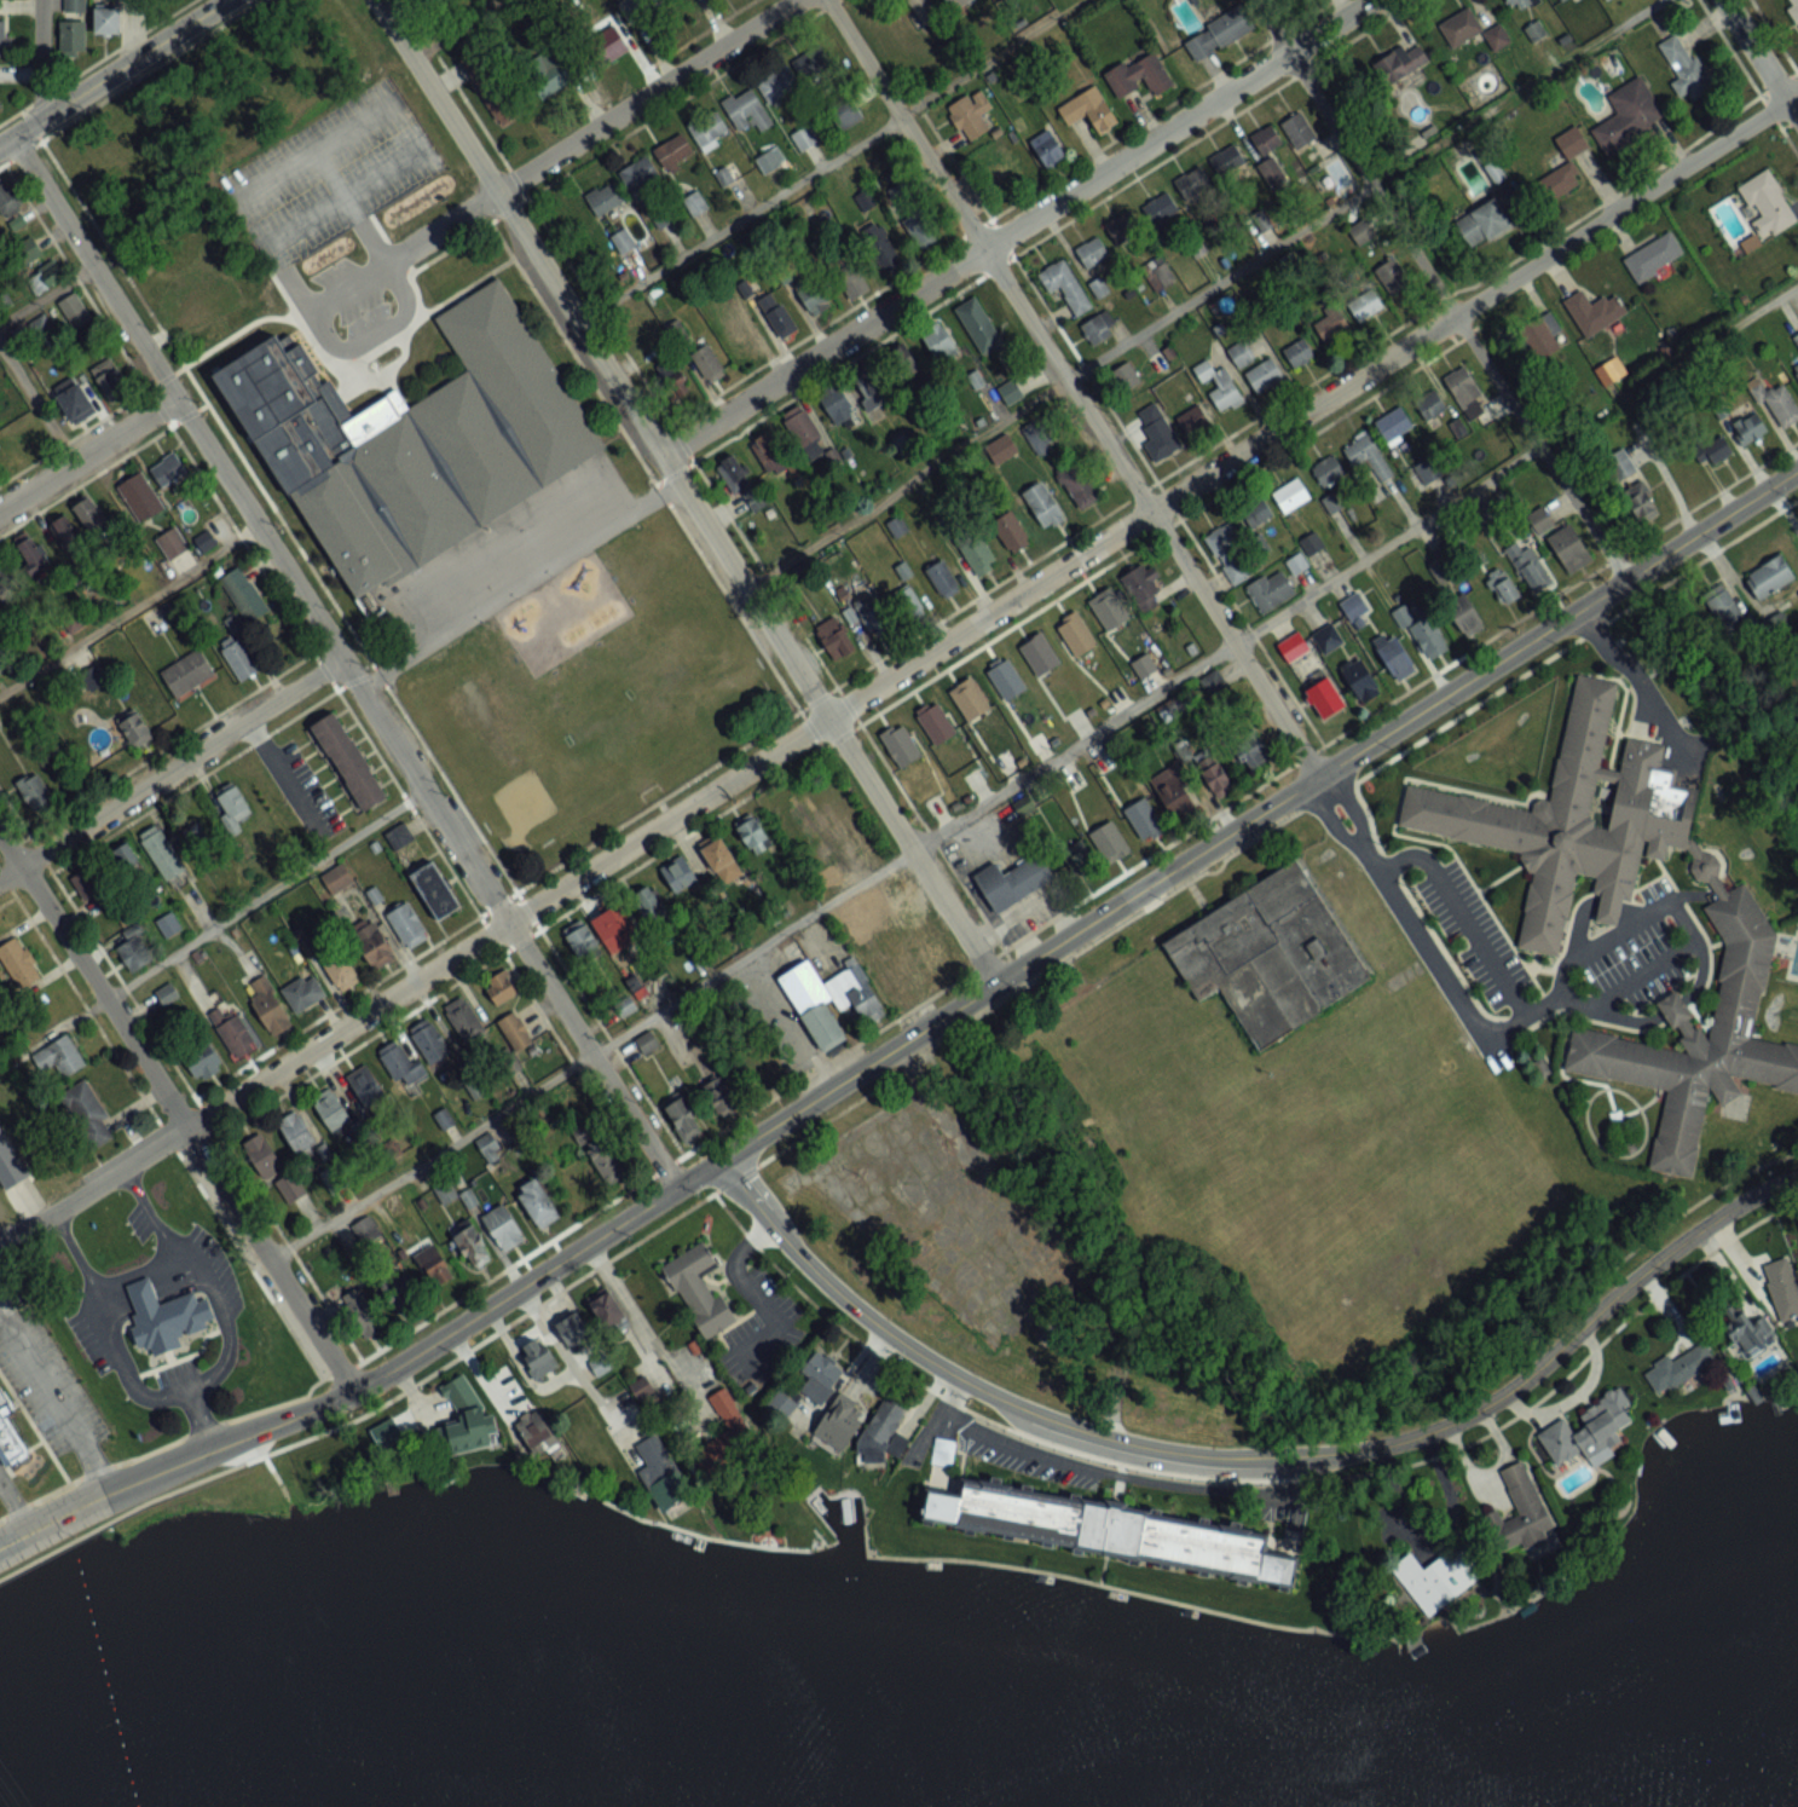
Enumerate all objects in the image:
building: (955, 2)
building: (1519, 4)
building: (74, 5)
building: (1792, 6)
building: (641, 8)
building: (106, 21)
road: (458, 29)
building: (1218, 34)
building: (71, 36)
building: (4, 37)
building: (606, 45)
road: (1761, 57)
road: (42, 59)
building: (1399, 64)
building: (1686, 69)
road: (114, 73)
building: (549, 73)
building: (794, 73)
building: (1140, 76)
building: (490, 87)
building: (0, 109)
building: (746, 110)
building: (1088, 110)
building: (971, 115)
building: (1629, 116)
building: (707, 128)
building: (1297, 131)
building: (804, 138)
building: (1266, 139)
building: (1573, 146)
road: (311, 149)
building: (1047, 149)
building: (673, 151)
road: (826, 158)
road: (554, 160)
building: (770, 160)
building: (1227, 161)
building: (1271, 172)
building: (727, 174)
building: (1004, 175)
building: (638, 177)
building: (1559, 181)
building: (1192, 183)
road: (340, 192)
building: (605, 198)
building: (7, 200)
building: (695, 203)
building: (1767, 203)
building: (1160, 208)
building: (1264, 221)
building: (1484, 224)
road: (1017, 226)
building: (920, 227)
building: (1123, 227)
building: (623, 241)
building: (881, 248)
building: (1092, 252)
building: (27, 253)
building: (1654, 256)
building: (1393, 277)
building: (44, 278)
road: (398, 278)
building: (851, 282)
building: (1064, 285)
road: (1439, 290)
road: (1202, 291)
building: (813, 295)
building: (203, 299)
building: (1365, 304)
building: (74, 310)
building: (1595, 312)
building: (776, 314)
building: (978, 325)
building: (1332, 327)
building: (1095, 331)
building: (1543, 335)
building: (940, 343)
building: (1299, 353)
building: (707, 362)
building: (903, 363)
building: (1796, 370)
building: (1264, 375)
building: (1128, 376)
building: (110, 380)
building: (672, 381)
road: (1075, 387)
building: (1221, 388)
building: (872, 391)
building: (1010, 392)
road: (39, 400)
building: (1429, 403)
building: (1781, 405)
building: (838, 406)
building: (1193, 421)
building: (1394, 425)
building: (1750, 429)
building: (803, 431)
building: (1157, 431)
building: (414, 438)
building: (1040, 443)
building: (1001, 449)
building: (1716, 450)
road: (87, 454)
building: (1368, 456)
building: (773, 457)
building: (1618, 464)
building: (1430, 469)
building: (168, 470)
building: (1328, 470)
building: (740, 481)
road: (1669, 481)
building: (1079, 485)
road: (689, 491)
building: (1290, 495)
building: (140, 497)
building: (1641, 503)
building: (1042, 504)
building: (1258, 512)
building: (91, 516)
building: (1540, 521)
building: (1011, 532)
building: (65, 535)
building: (204, 542)
building: (172, 543)
building: (1311, 544)
building: (1569, 549)
building: (30, 552)
building: (1230, 554)
building: (978, 555)
building: (1296, 564)
building: (1528, 566)
building: (0, 568)
building: (1441, 571)
building: (942, 578)
building: (1144, 588)
building: (1505, 589)
building: (244, 594)
building: (907, 602)
building: (1723, 607)
road: (129, 608)
building: (1109, 610)
building: (874, 616)
building: (1465, 616)
building: (1422, 630)
building: (1075, 635)
building: (836, 639)
building: (1328, 640)
building: (1293, 647)
building: (242, 658)
building: (1395, 658)
road: (342, 665)
road: (903, 670)
building: (187, 672)
building: (1005, 679)
building: (1360, 681)
road: (1642, 682)
building: (1215, 685)
building: (1325, 698)
building: (970, 699)
building: (936, 723)
building: (134, 728)
building: (900, 744)
building: (1249, 752)
building: (346, 757)
road: (1033, 768)
road: (168, 769)
building: (1214, 774)
road: (282, 775)
road: (1317, 779)
building: (1175, 787)
building: (35, 792)
building: (233, 803)
building: (1144, 819)
building: (747, 827)
building: (1110, 842)
building: (162, 854)
building: (721, 859)
building: (678, 873)
building: (1008, 878)
building: (88, 883)
parking lot: (1653, 888)
road: (262, 890)
building: (435, 890)
building: (648, 902)
road: (1606, 905)
road: (1630, 910)
road: (1459, 913)
road: (1684, 923)
building: (168, 925)
building: (406, 925)
building: (1742, 926)
building: (615, 928)
parking lot: (1472, 933)
building: (582, 940)
building: (372, 942)
building: (134, 952)
building: (1265, 952)
parking lot: (1626, 953)
building: (19, 962)
building: (330, 965)
road: (1699, 971)
building: (804, 974)
road: (1444, 977)
parking lot: (1655, 982)
building: (501, 987)
building: (303, 993)
building: (854, 993)
road: (1559, 993)
road: (1670, 1005)
building: (270, 1008)
building: (464, 1020)
building: (823, 1027)
building: (516, 1032)
building: (235, 1033)
road: (914, 1039)
building: (432, 1044)
building: (59, 1057)
building: (204, 1060)
road: (915, 1061)
building: (403, 1064)
building: (365, 1086)
building: (719, 1095)
building: (89, 1112)
road: (175, 1113)
building: (333, 1113)
building: (683, 1118)
building: (297, 1133)
building: (608, 1160)
building: (8, 1164)
building: (273, 1171)
building: (537, 1200)
road: (149, 1213)
building: (503, 1226)
building: (470, 1245)
building: (432, 1264)
building: (393, 1277)
road: (93, 1286)
building: (695, 1286)
road: (747, 1289)
building: (1787, 1298)
building: (607, 1309)
road: (632, 1311)
building: (362, 1312)
building: (161, 1314)
building: (1750, 1329)
building: (573, 1330)
parking lot: (86, 1341)
building: (537, 1356)
road: (572, 1363)
building: (1687, 1364)
parking lot: (174, 1369)
building: (819, 1378)
road: (187, 1387)
road: (53, 1403)
building: (2, 1404)
road: (197, 1419)
building: (463, 1420)
building: (840, 1424)
building: (1588, 1428)
building: (883, 1431)
building: (727, 1436)
building: (7, 1442)
road: (1251, 1456)
road: (1089, 1465)
building: (661, 1474)
road: (1293, 1474)
road: (12, 1506)
building: (1519, 1512)
building: (1106, 1526)
building: (1436, 1578)
river: (341, 1734)
river: (1744, 1790)

